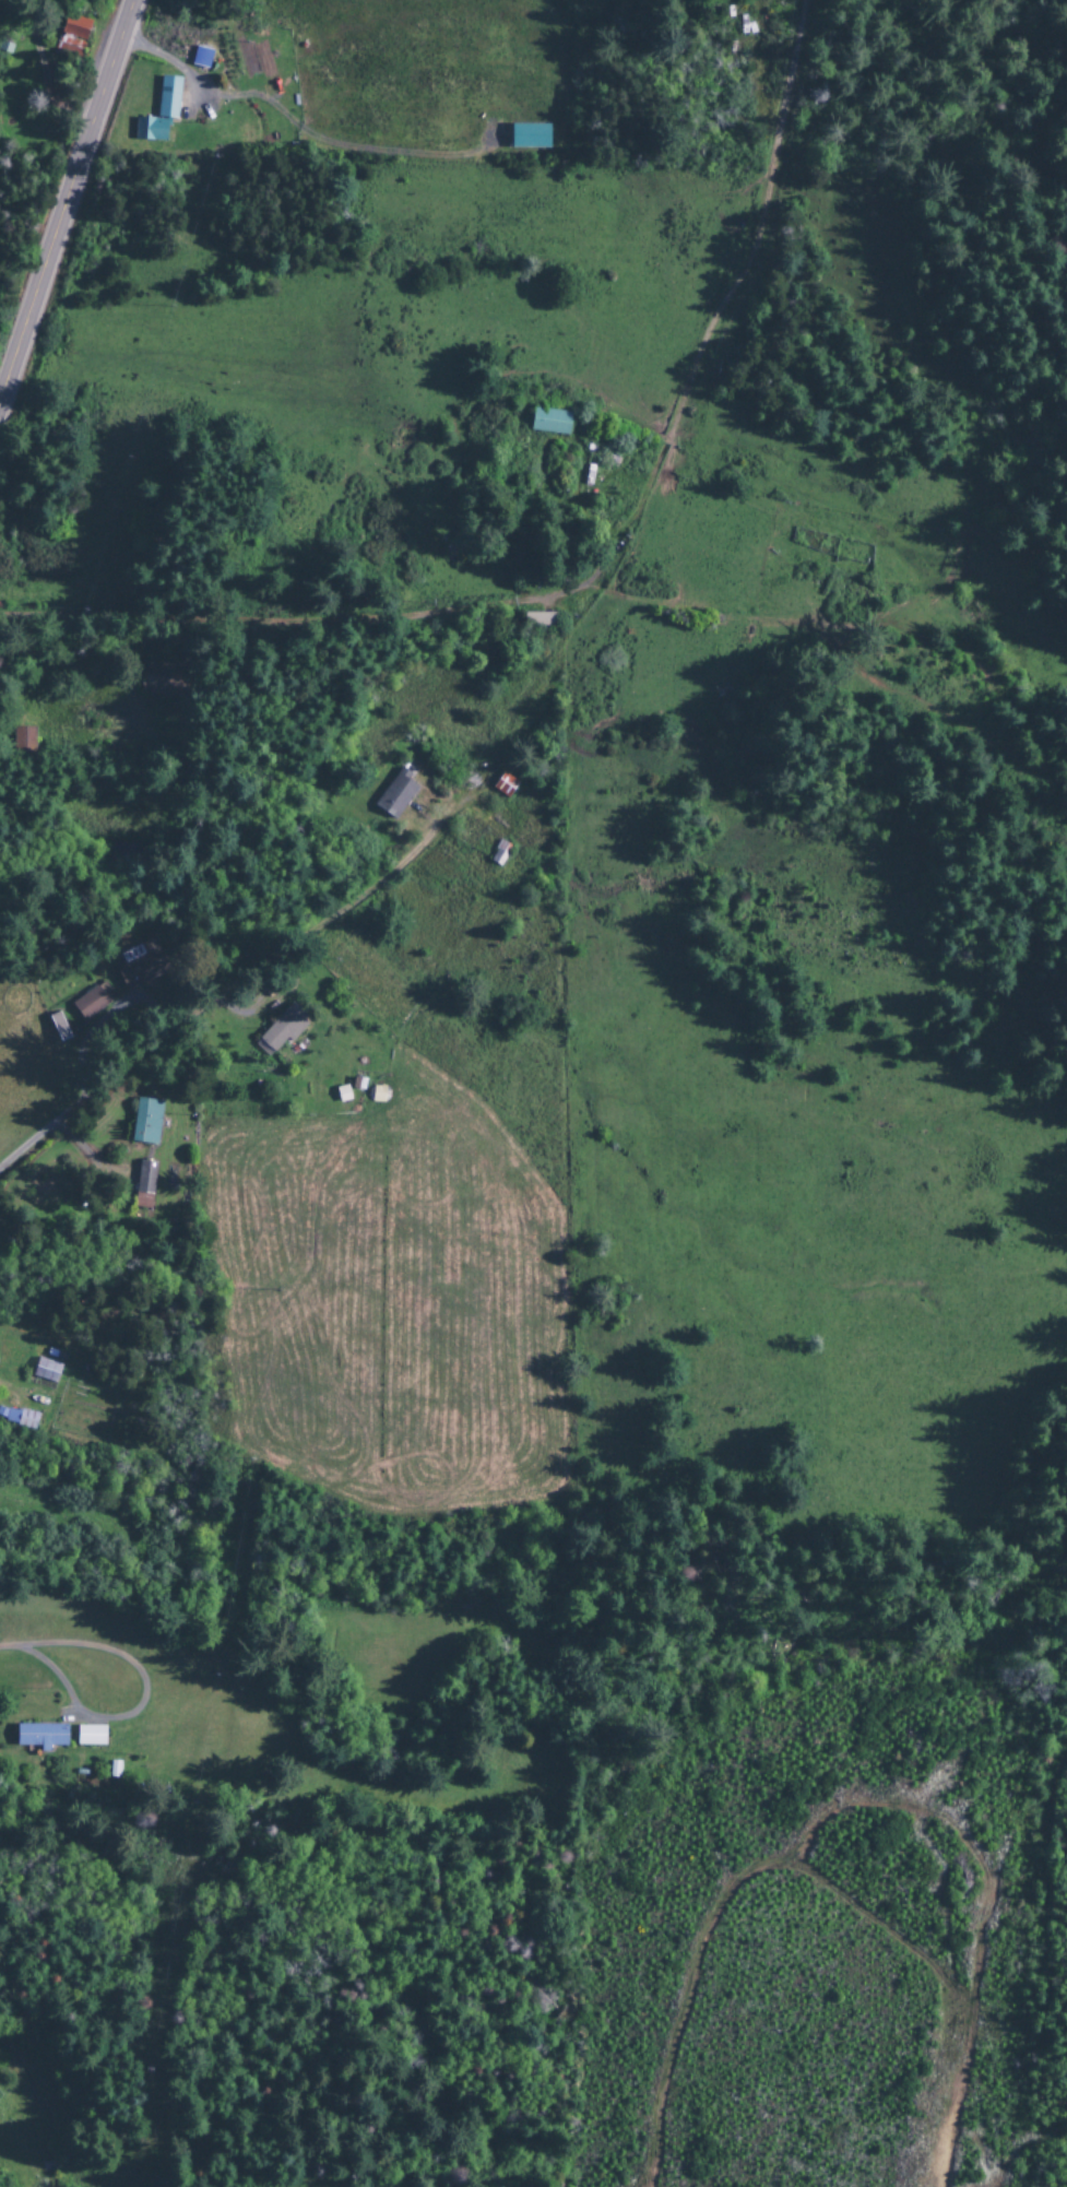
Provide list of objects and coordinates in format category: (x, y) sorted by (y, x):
building: (71, 34)
building: (200, 58)
road: (503, 88)
building: (158, 113)
building: (527, 137)
road: (67, 203)
building: (548, 422)
road: (559, 589)
building: (537, 619)
building: (161, 681)
building: (503, 785)
building: (395, 794)
building: (498, 853)
building: (140, 965)
building: (92, 1001)
road: (216, 1005)
building: (282, 1029)
building: (145, 1122)
building: (144, 1178)
building: (141, 1201)
building: (16, 1418)
road: (15, 1648)
road: (137, 1706)
building: (40, 1736)
building: (90, 1736)

